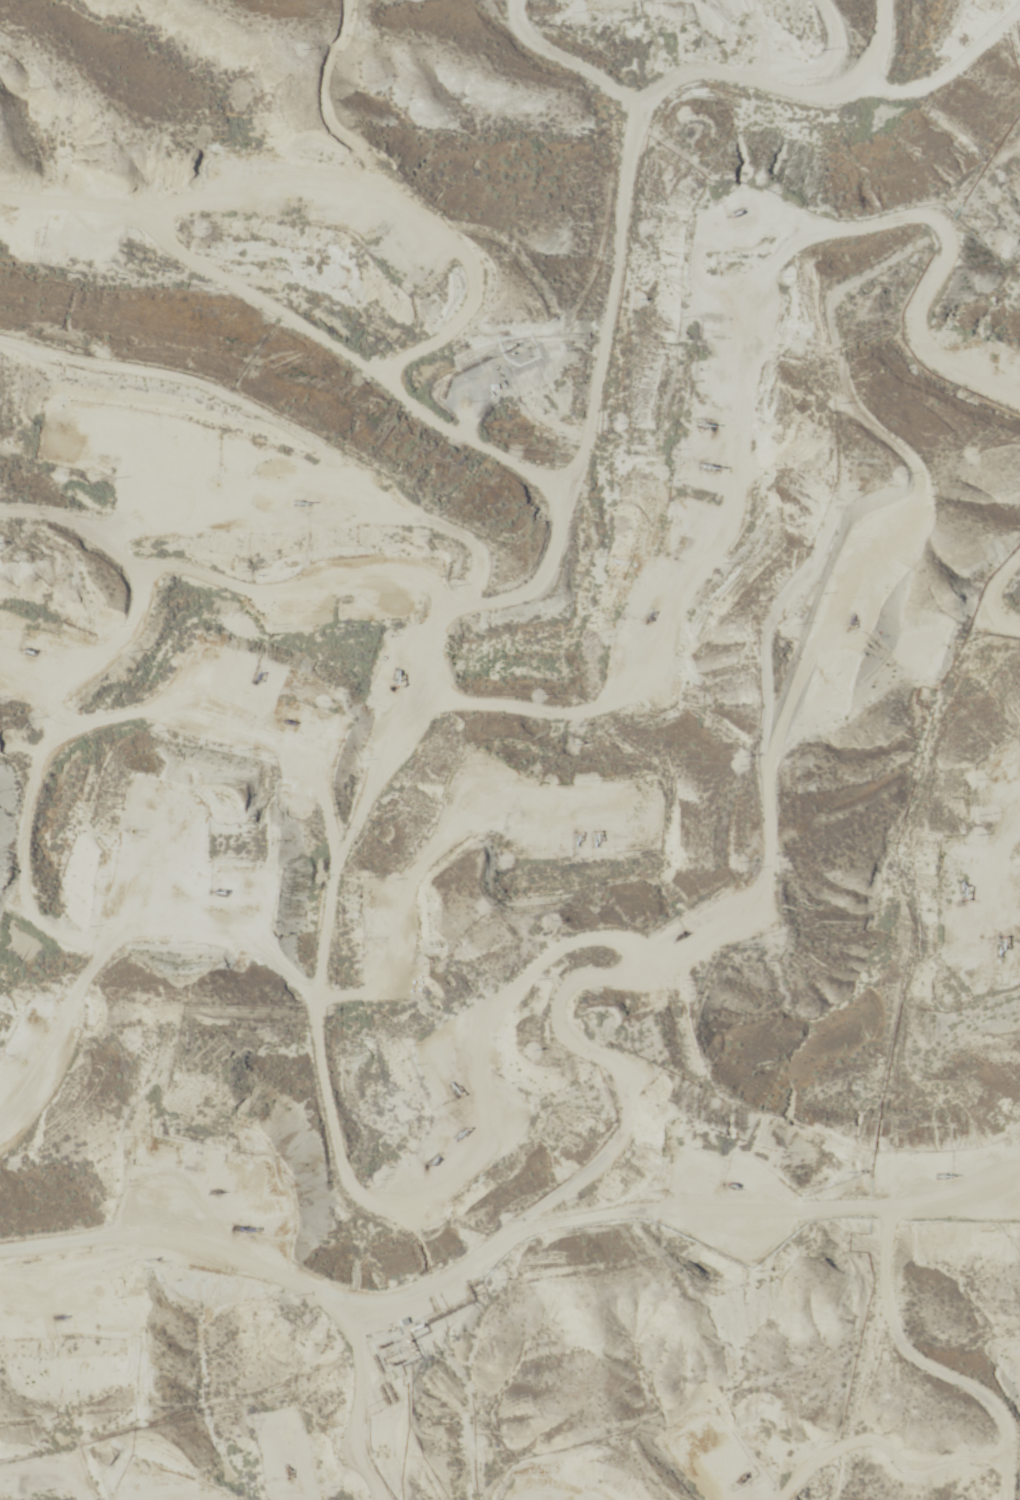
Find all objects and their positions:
road: (698, 133)
road: (449, 426)
road: (335, 587)
road: (845, 599)
road: (653, 805)
road: (510, 1238)
road: (359, 1406)
road: (1002, 1459)
road: (47, 1469)

